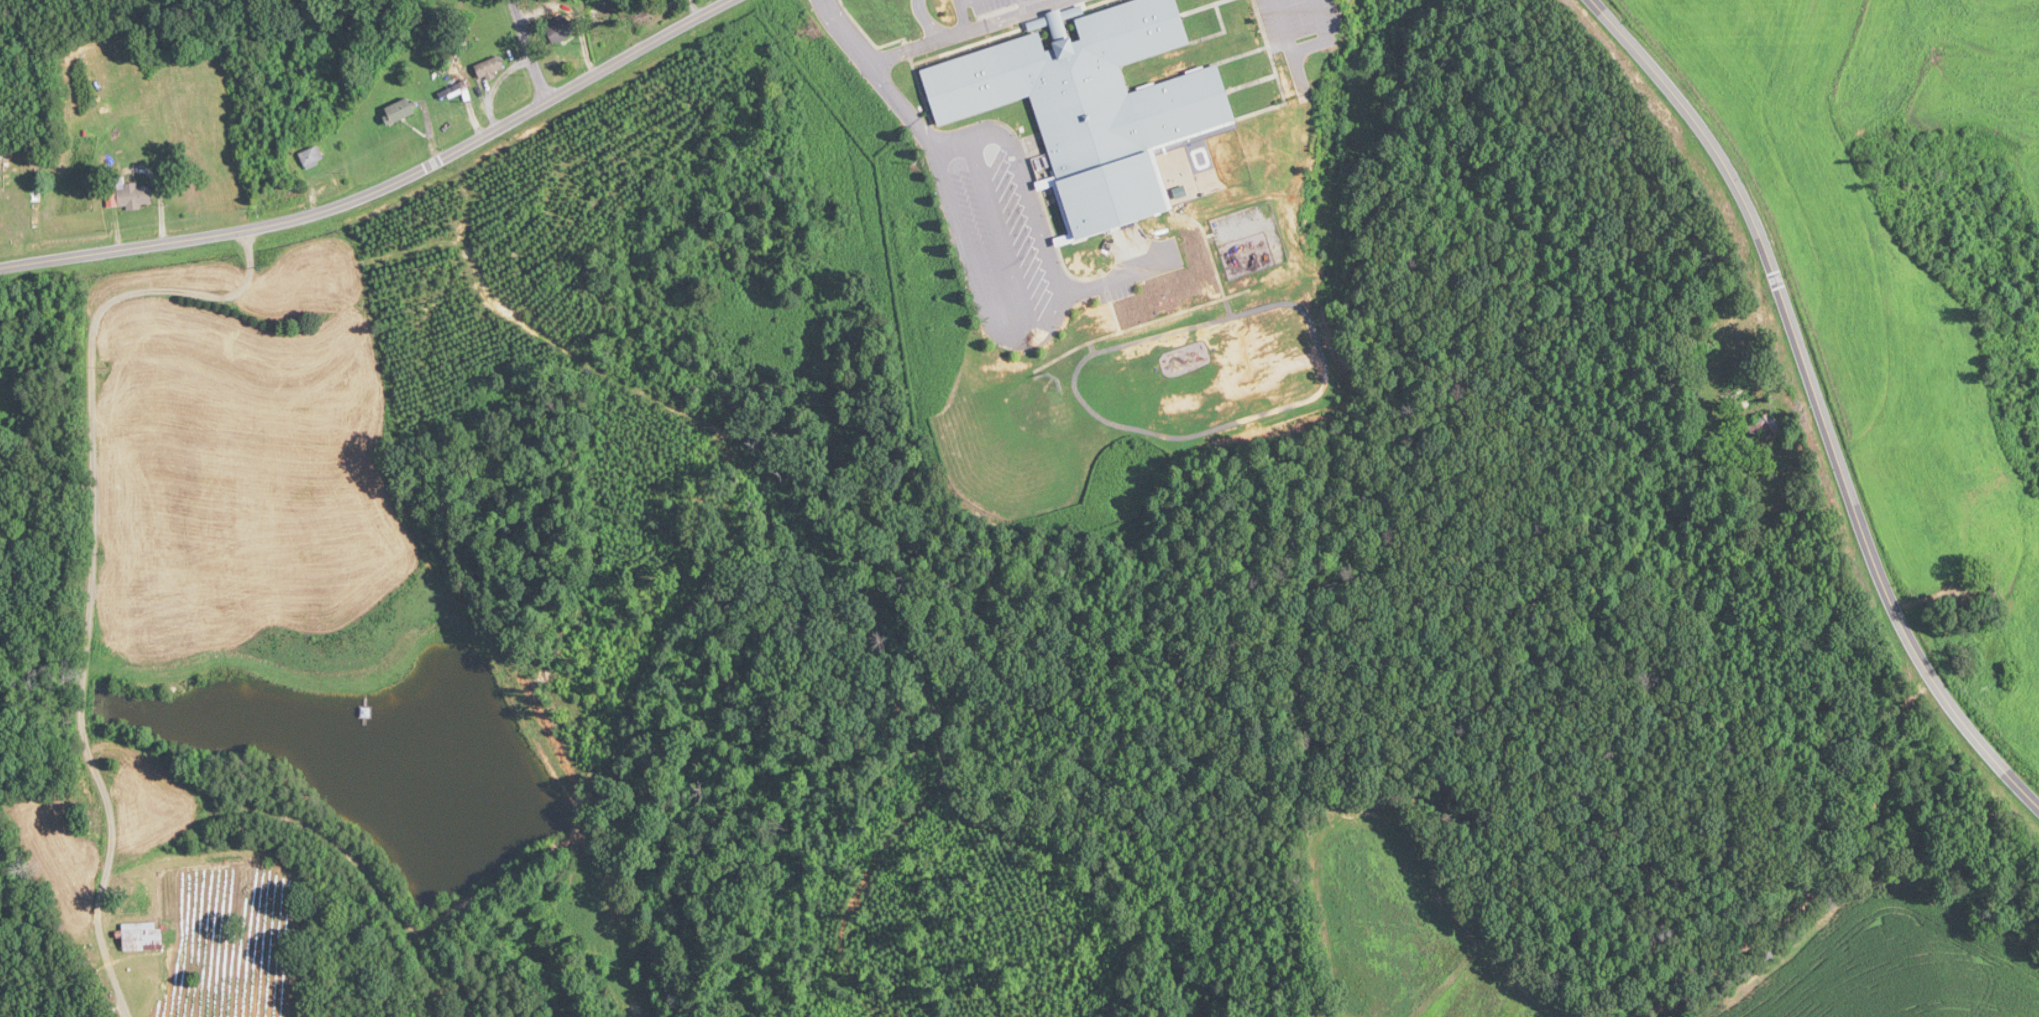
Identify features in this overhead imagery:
building: (603, 12)
road: (961, 15)
road: (1012, 15)
road: (925, 21)
building: (559, 31)
road: (917, 46)
road: (1304, 49)
road: (529, 50)
building: (490, 68)
road: (877, 72)
building: (1089, 106)
building: (402, 111)
building: (315, 157)
road: (382, 187)
building: (134, 195)
park: (20, 197)
road: (998, 234)
road: (1115, 276)
road: (1053, 312)
road: (1818, 400)
building: (1763, 426)
road: (94, 559)
dam: (509, 878)
building: (144, 937)

